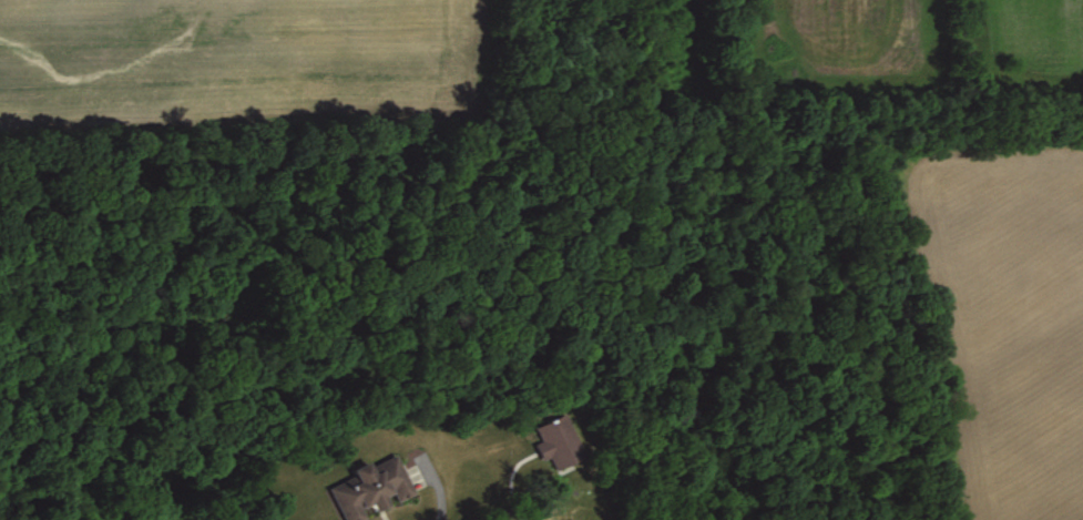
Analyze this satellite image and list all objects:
building: (558, 441)
building: (370, 487)

